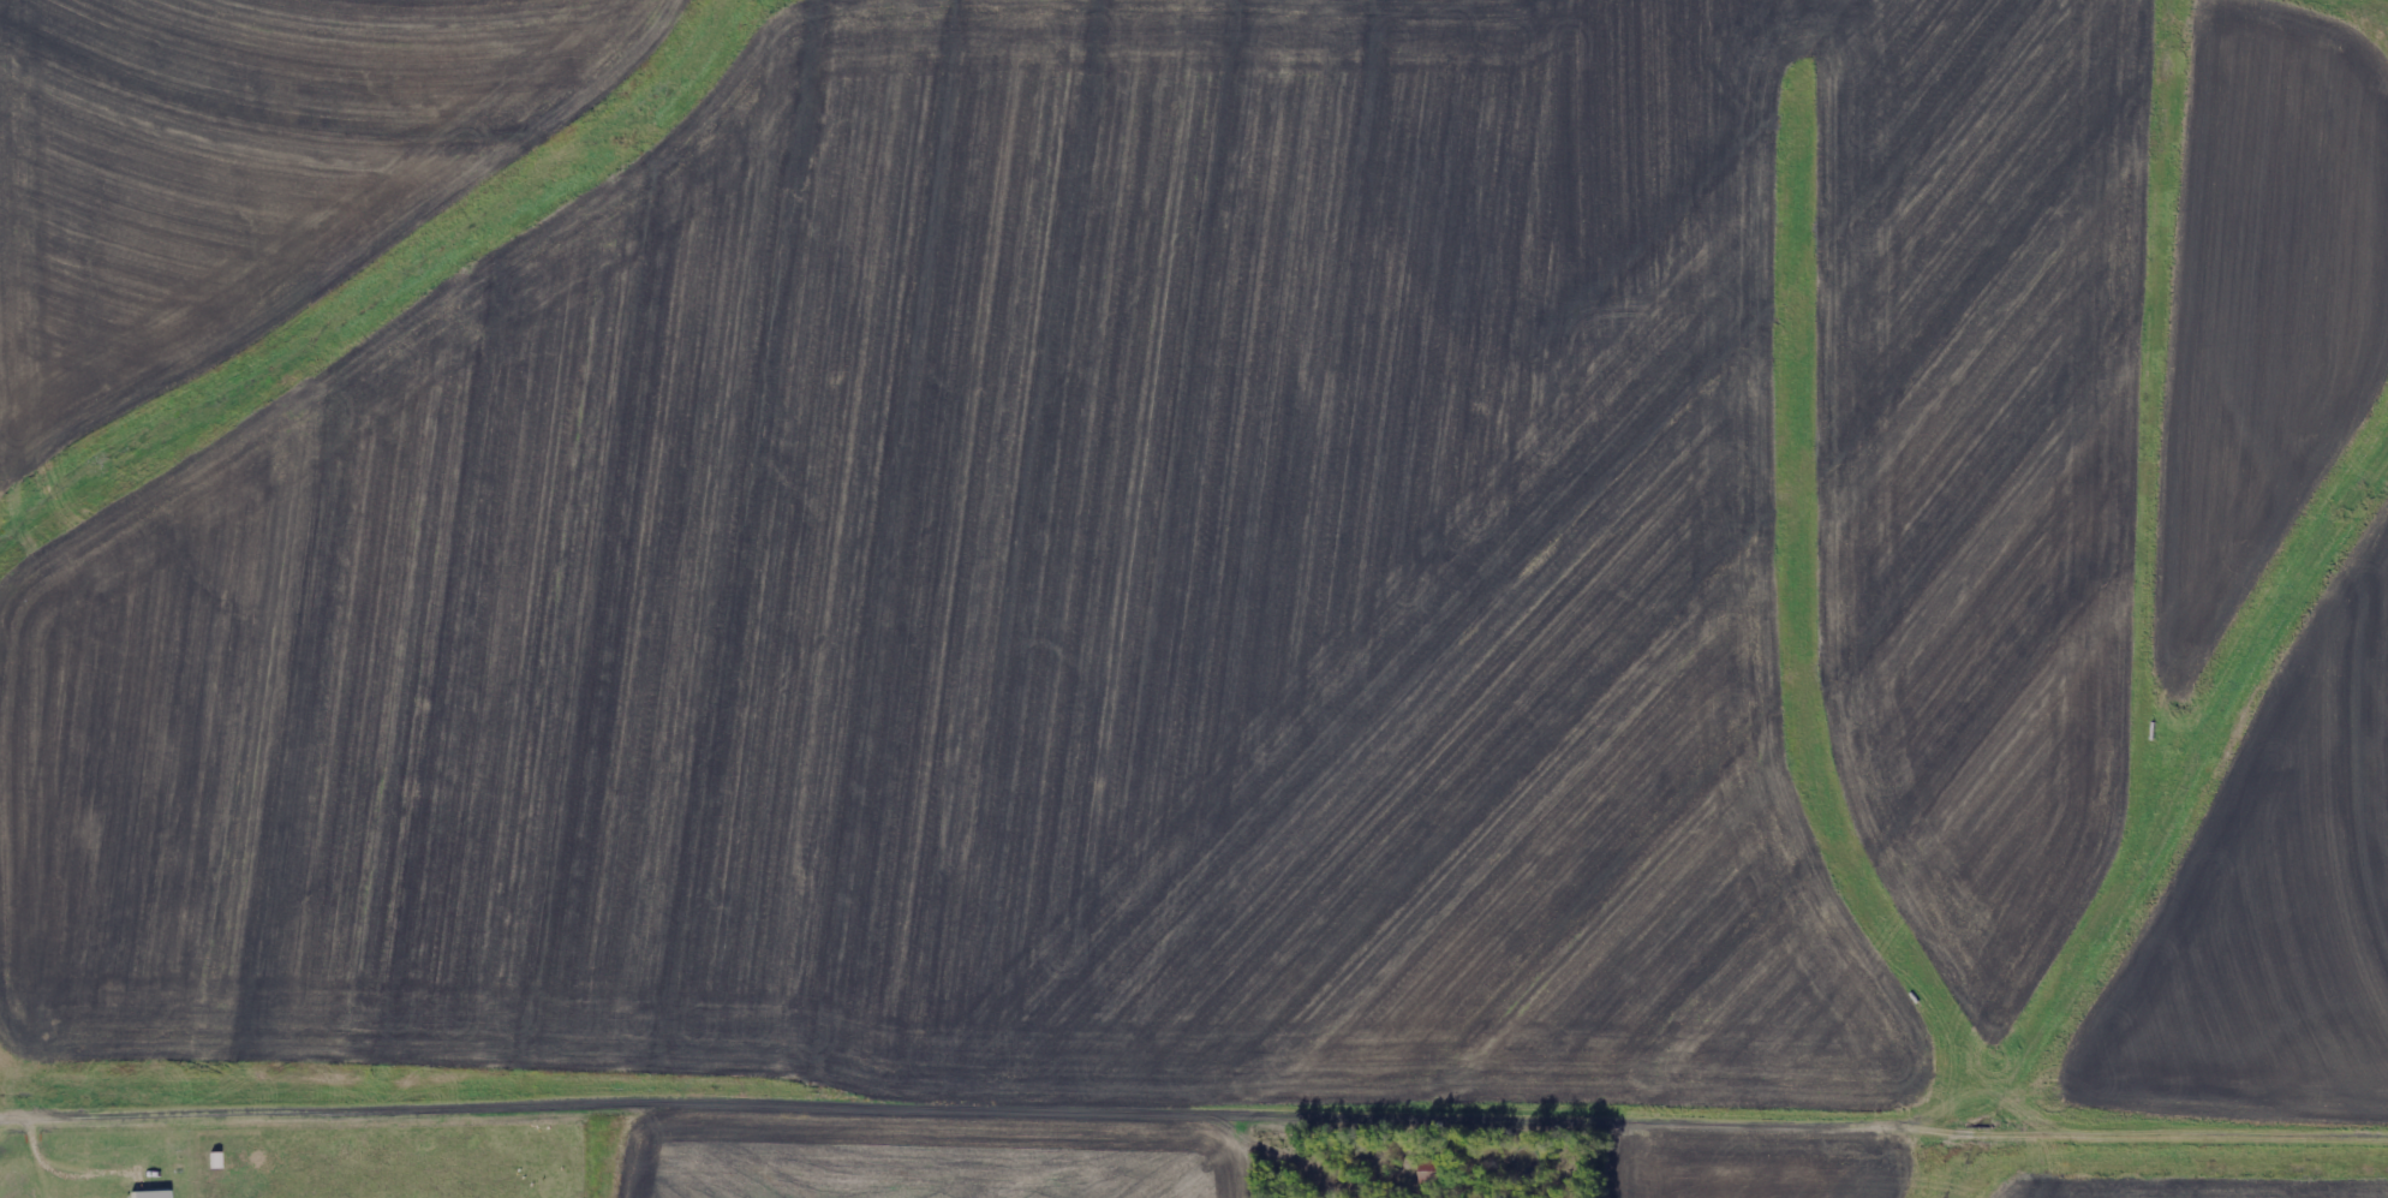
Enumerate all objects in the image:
road: (1193, 1115)
road: (592, 1151)

